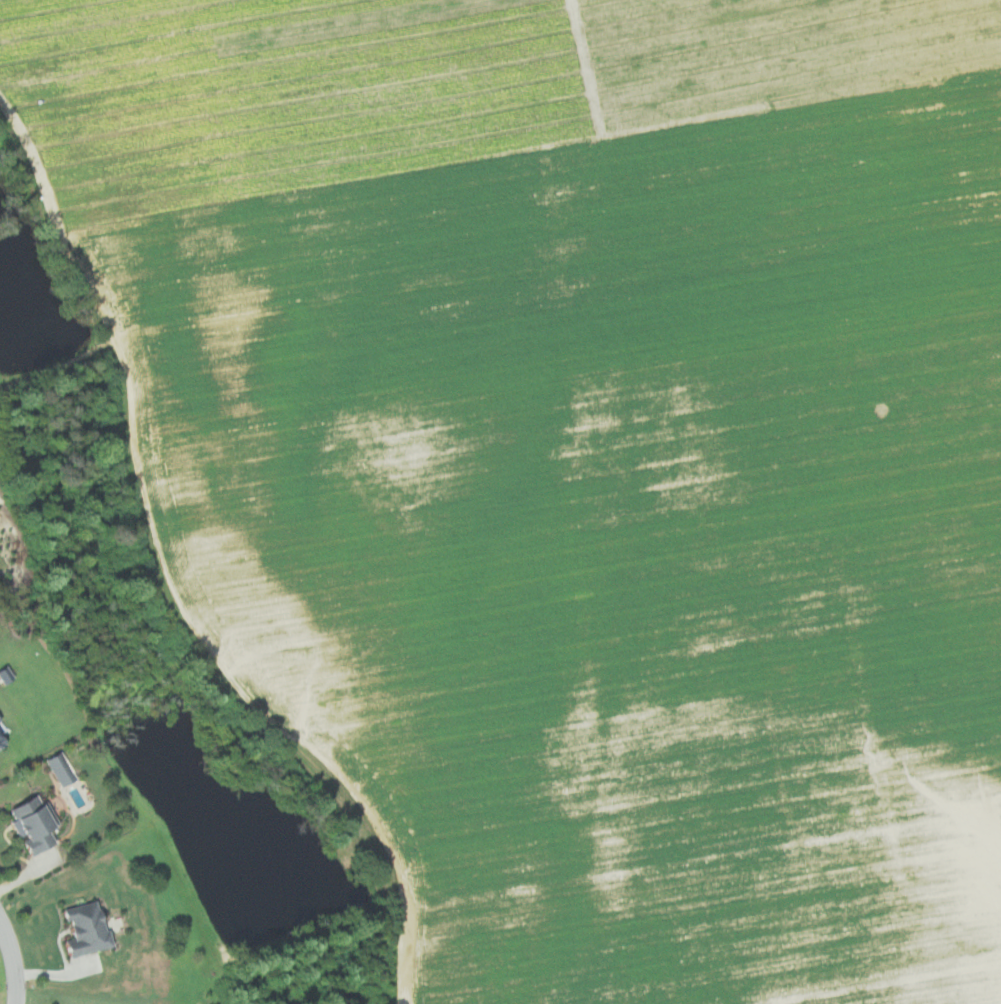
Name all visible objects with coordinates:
building: (1, 729)
building: (1, 741)
building: (0, 746)
building: (59, 769)
building: (31, 823)
building: (84, 928)
road: (13, 961)

